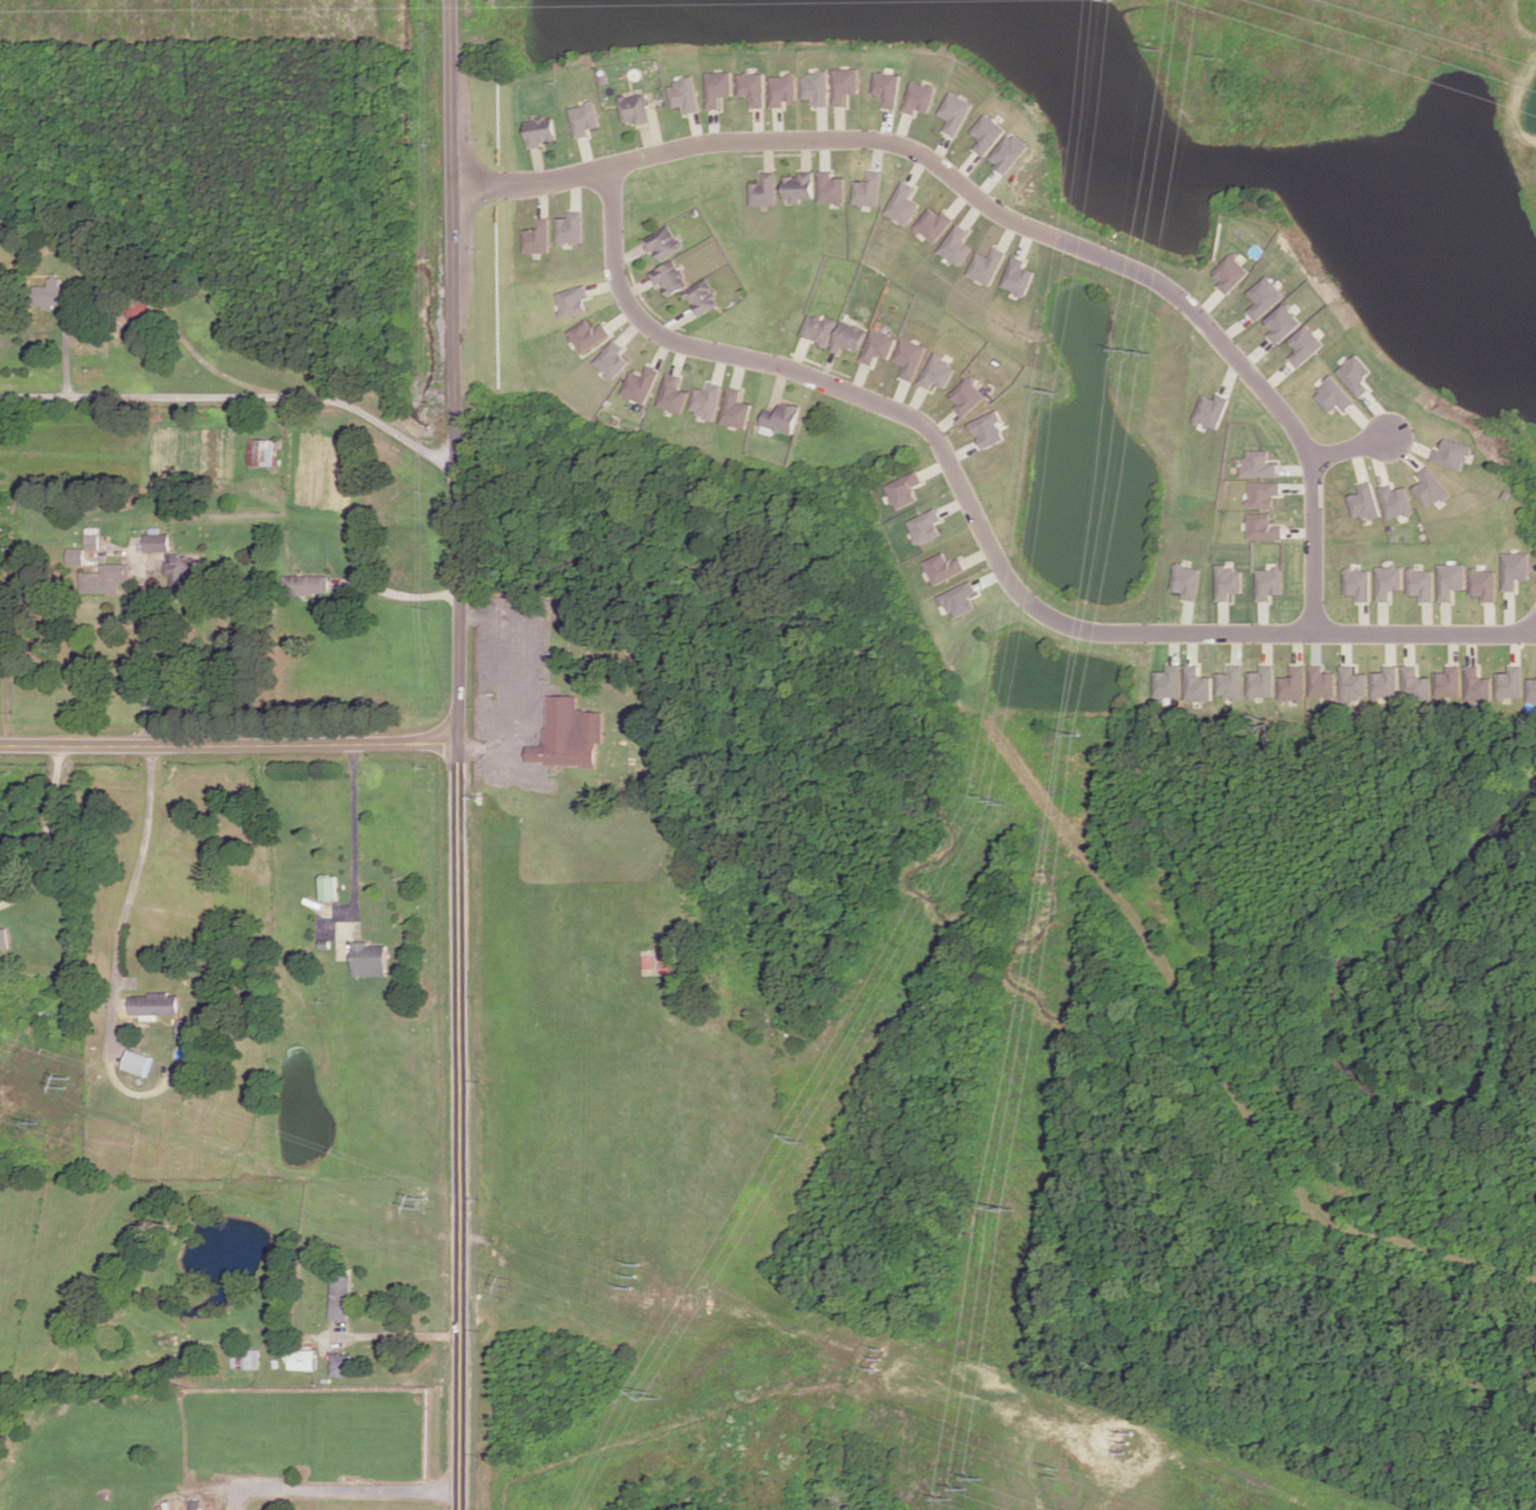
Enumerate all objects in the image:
building: (845, 85)
building: (719, 87)
building: (816, 87)
building: (753, 88)
building: (887, 88)
building: (783, 89)
building: (685, 94)
building: (919, 98)
building: (636, 108)
building: (955, 113)
building: (586, 118)
building: (542, 131)
building: (987, 133)
building: (1008, 152)
building: (799, 186)
building: (831, 187)
building: (869, 189)
building: (765, 190)
building: (903, 203)
road: (1000, 219)
building: (934, 224)
building: (572, 227)
building: (539, 236)
building: (665, 242)
building: (956, 244)
building: (987, 266)
building: (1231, 273)
building: (1018, 276)
building: (671, 277)
road: (145, 293)
building: (54, 294)
building: (703, 297)
building: (1264, 297)
building: (574, 300)
building: (1282, 322)
building: (819, 328)
building: (590, 335)
building: (849, 336)
building: (1305, 345)
building: (878, 346)
power tower: (1135, 351)
building: (910, 358)
building: (613, 359)
road: (452, 370)
building: (938, 372)
building: (1356, 374)
building: (642, 384)
building: (674, 394)
road: (235, 395)
building: (1333, 395)
building: (967, 396)
power tower: (1058, 398)
building: (708, 400)
building: (737, 408)
building: (1211, 410)
building: (781, 419)
building: (988, 429)
road: (1350, 452)
building: (1452, 454)
building: (1258, 463)
building: (1430, 487)
building: (904, 489)
building: (1263, 493)
building: (1365, 501)
building: (1396, 501)
building: (925, 525)
building: (1263, 526)
building: (94, 538)
road: (988, 540)
building: (159, 542)
building: (78, 555)
building: (944, 567)
building: (1515, 569)
building: (185, 571)
building: (108, 578)
building: (1451, 580)
building: (1186, 581)
building: (1389, 581)
building: (1227, 582)
building: (1268, 582)
building: (1359, 583)
building: (1422, 583)
building: (308, 584)
building: (1484, 584)
road: (399, 594)
building: (959, 598)
road: (8, 642)
road: (145, 653)
road: (502, 682)
building: (1167, 682)
building: (1229, 682)
building: (1260, 682)
building: (1321, 682)
building: (1385, 682)
building: (1447, 682)
building: (1509, 682)
building: (1292, 683)
building: (1414, 683)
building: (1196, 684)
building: (1352, 684)
building: (1476, 684)
building: (1531, 690)
power tower: (1075, 733)
building: (570, 734)
road: (226, 746)
power tower: (995, 797)
road: (358, 833)
road: (47, 835)
road: (135, 876)
building: (329, 887)
building: (4, 938)
building: (370, 959)
building: (667, 961)
building: (650, 962)
building: (154, 1004)
building: (189, 1027)
building: (139, 1062)
road: (455, 1125)
power tower: (807, 1137)
power tower: (1002, 1207)
building: (339, 1296)
road: (396, 1336)
building: (251, 1358)
building: (302, 1359)
building: (340, 1364)
power tower: (661, 1393)
power tower: (962, 1486)
road: (347, 1492)

